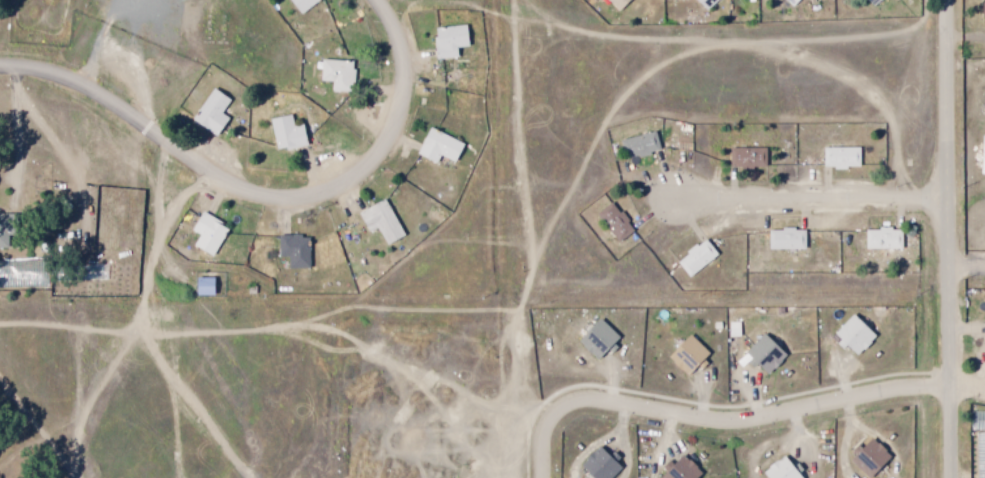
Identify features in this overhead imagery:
building: (788, 2)
building: (614, 3)
building: (703, 3)
building: (870, 3)
building: (303, 5)
building: (981, 8)
building: (450, 42)
building: (338, 75)
building: (213, 113)
building: (287, 133)
building: (633, 145)
building: (441, 146)
building: (838, 156)
building: (744, 157)
road: (262, 190)
road: (814, 197)
building: (383, 222)
building: (609, 223)
building: (8, 228)
building: (209, 235)
road: (954, 238)
building: (780, 239)
building: (879, 240)
building: (296, 251)
building: (691, 257)
building: (207, 287)
building: (730, 329)
building: (592, 338)
building: (848, 338)
building: (682, 354)
building: (759, 354)
road: (965, 375)
road: (716, 417)
building: (863, 457)
building: (597, 466)
building: (674, 470)
building: (776, 470)

